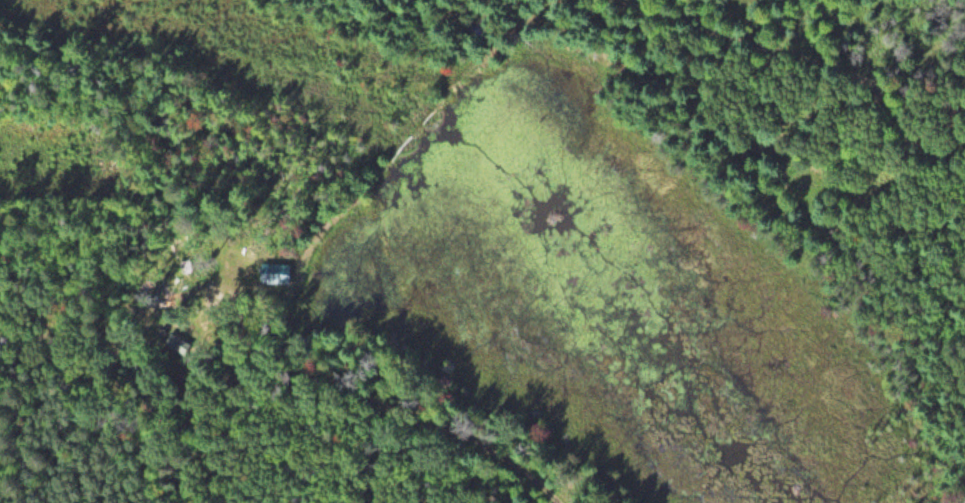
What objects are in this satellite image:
road: (813, 52)

